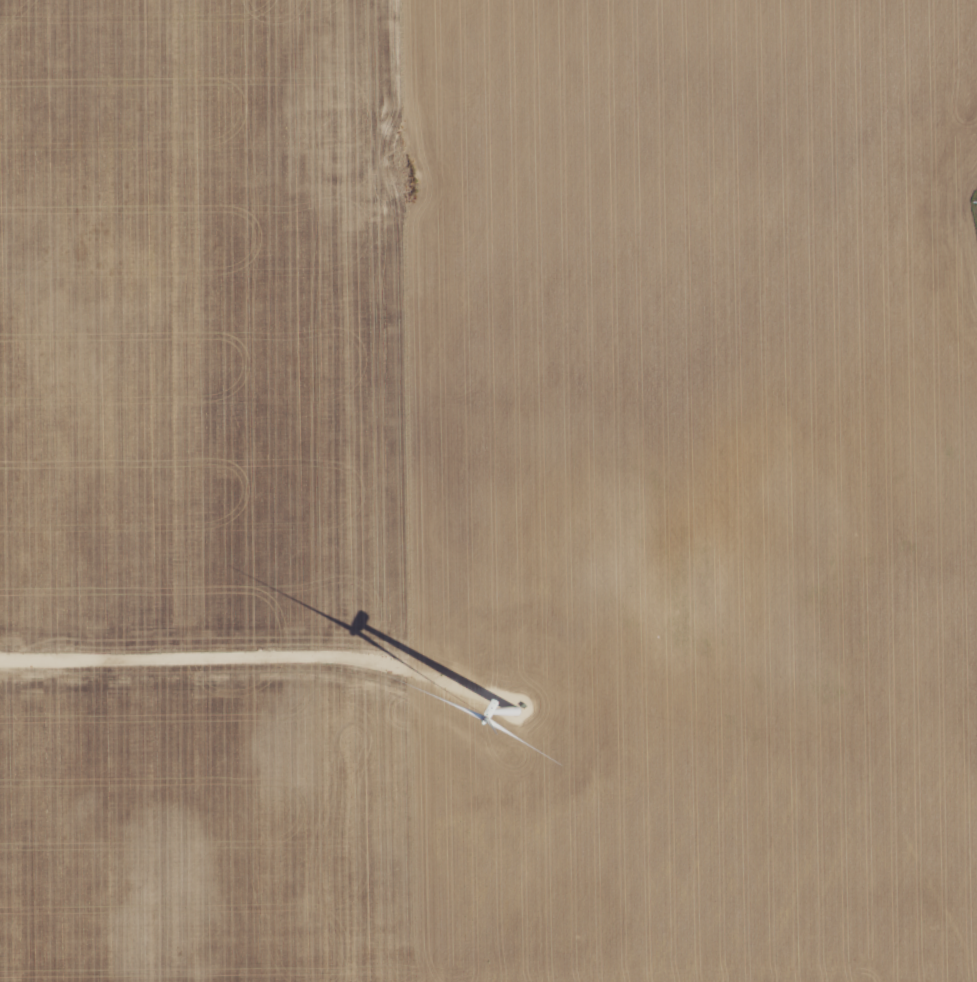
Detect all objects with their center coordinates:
wind turbine: (511, 708)

